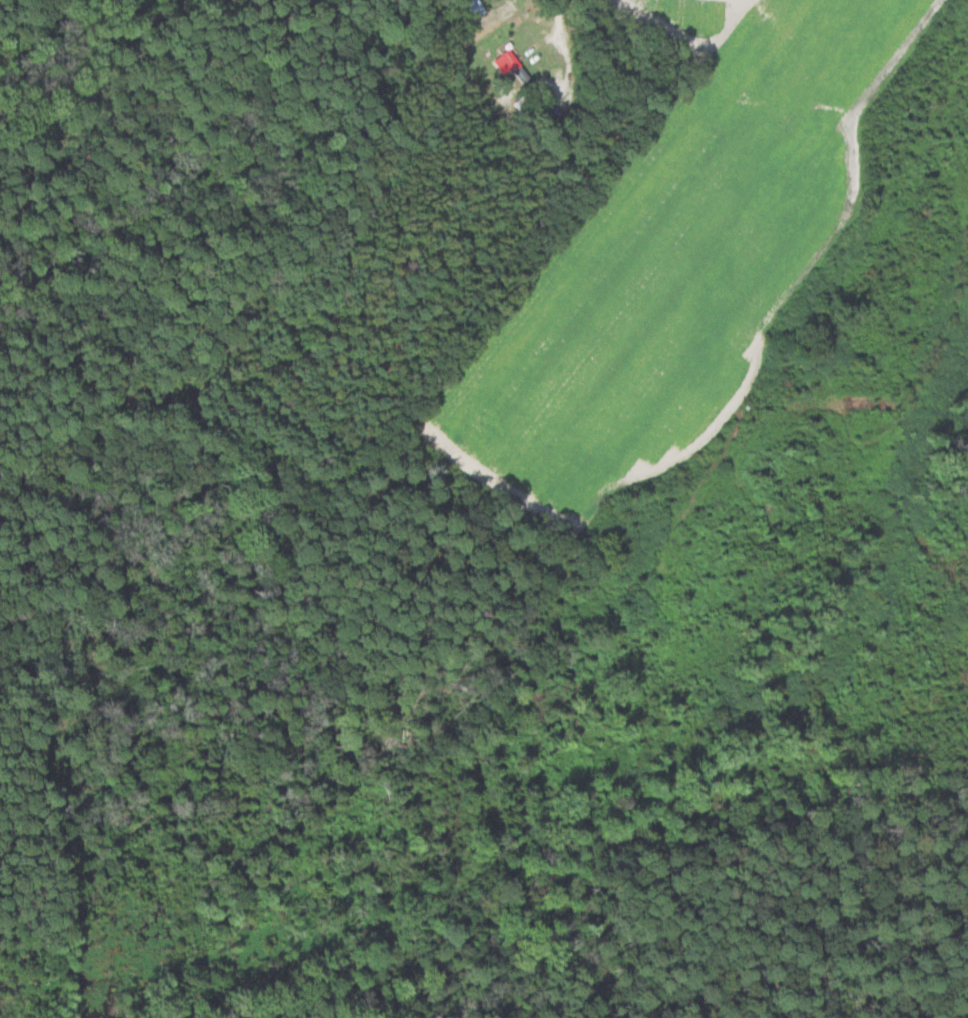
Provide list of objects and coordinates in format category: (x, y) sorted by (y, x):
building: (472, 8)
building: (508, 67)

